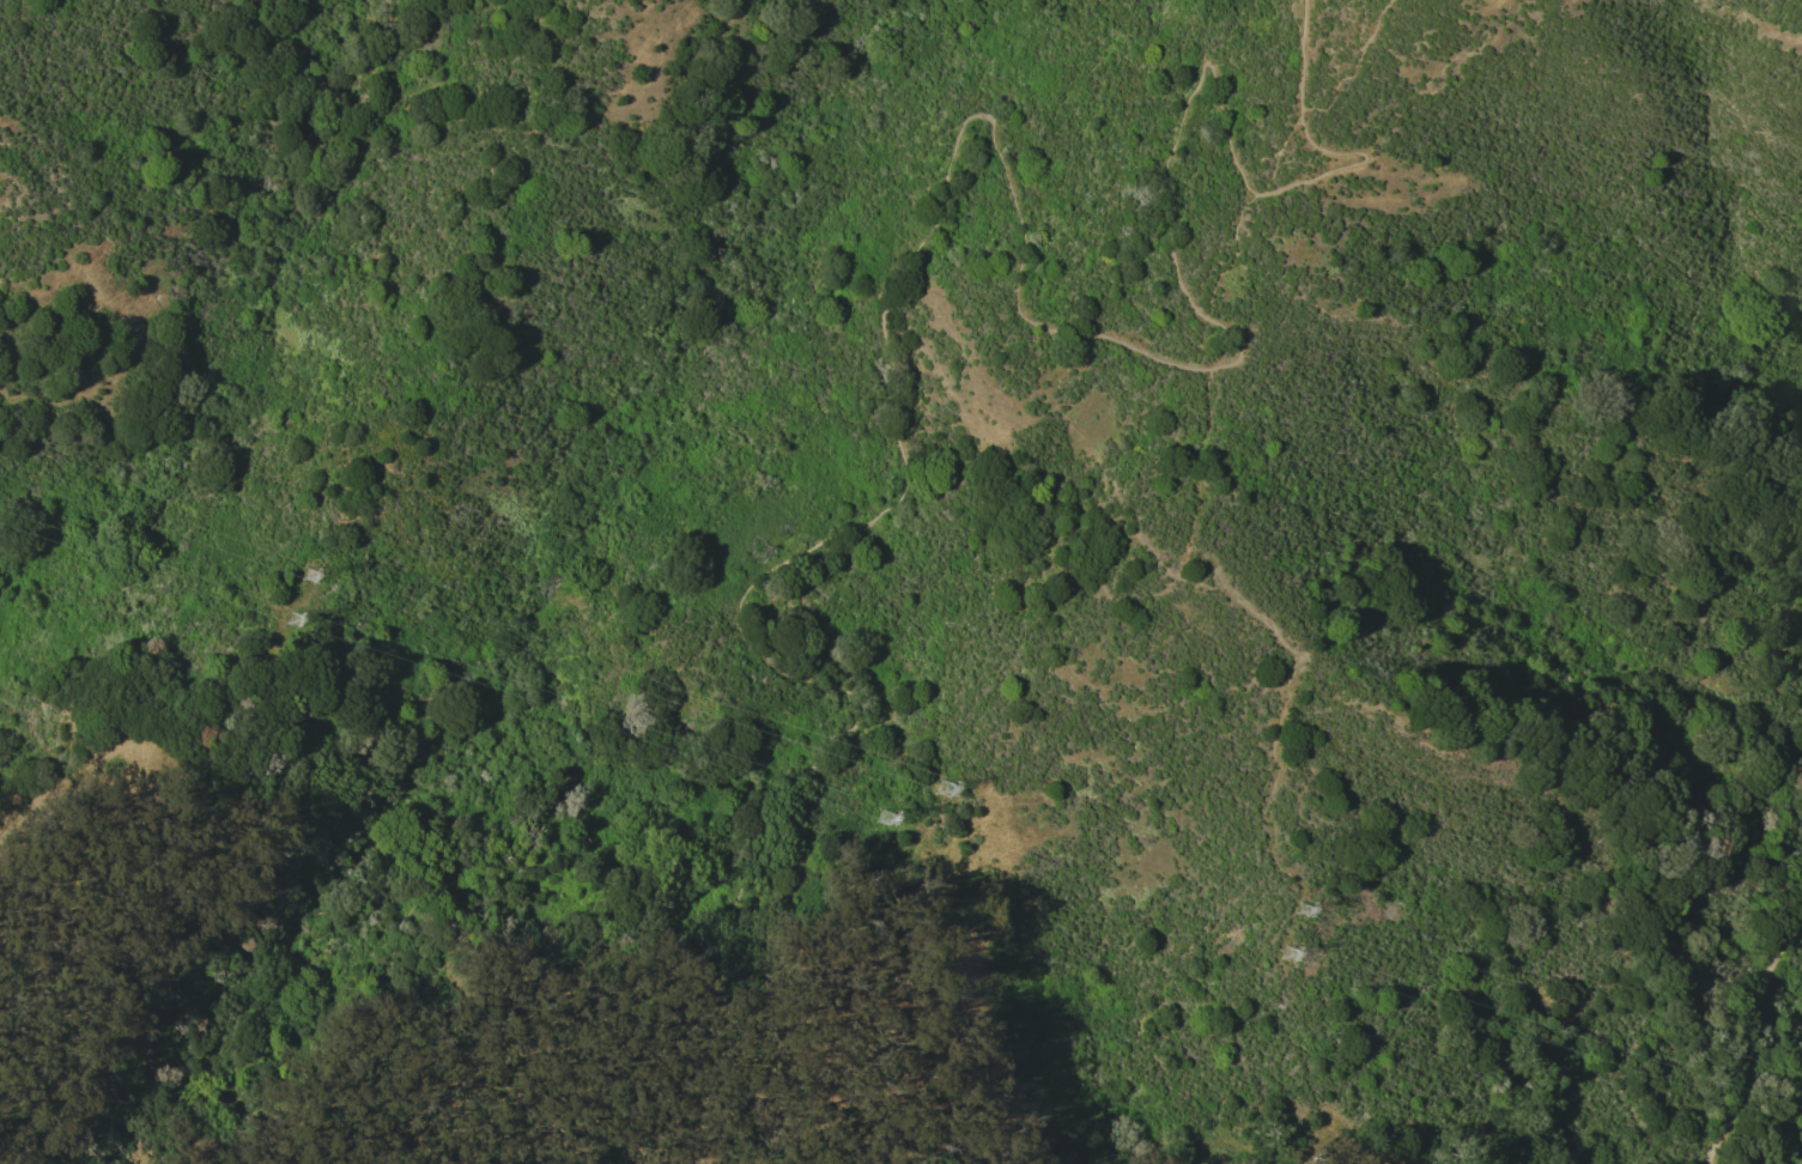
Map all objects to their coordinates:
road: (1267, 170)
road: (932, 234)
power tower: (315, 560)
power tower: (295, 618)
power tower: (953, 781)
power tower: (888, 814)
power tower: (1310, 908)
road: (424, 942)
power tower: (1294, 952)
road: (1748, 1037)

